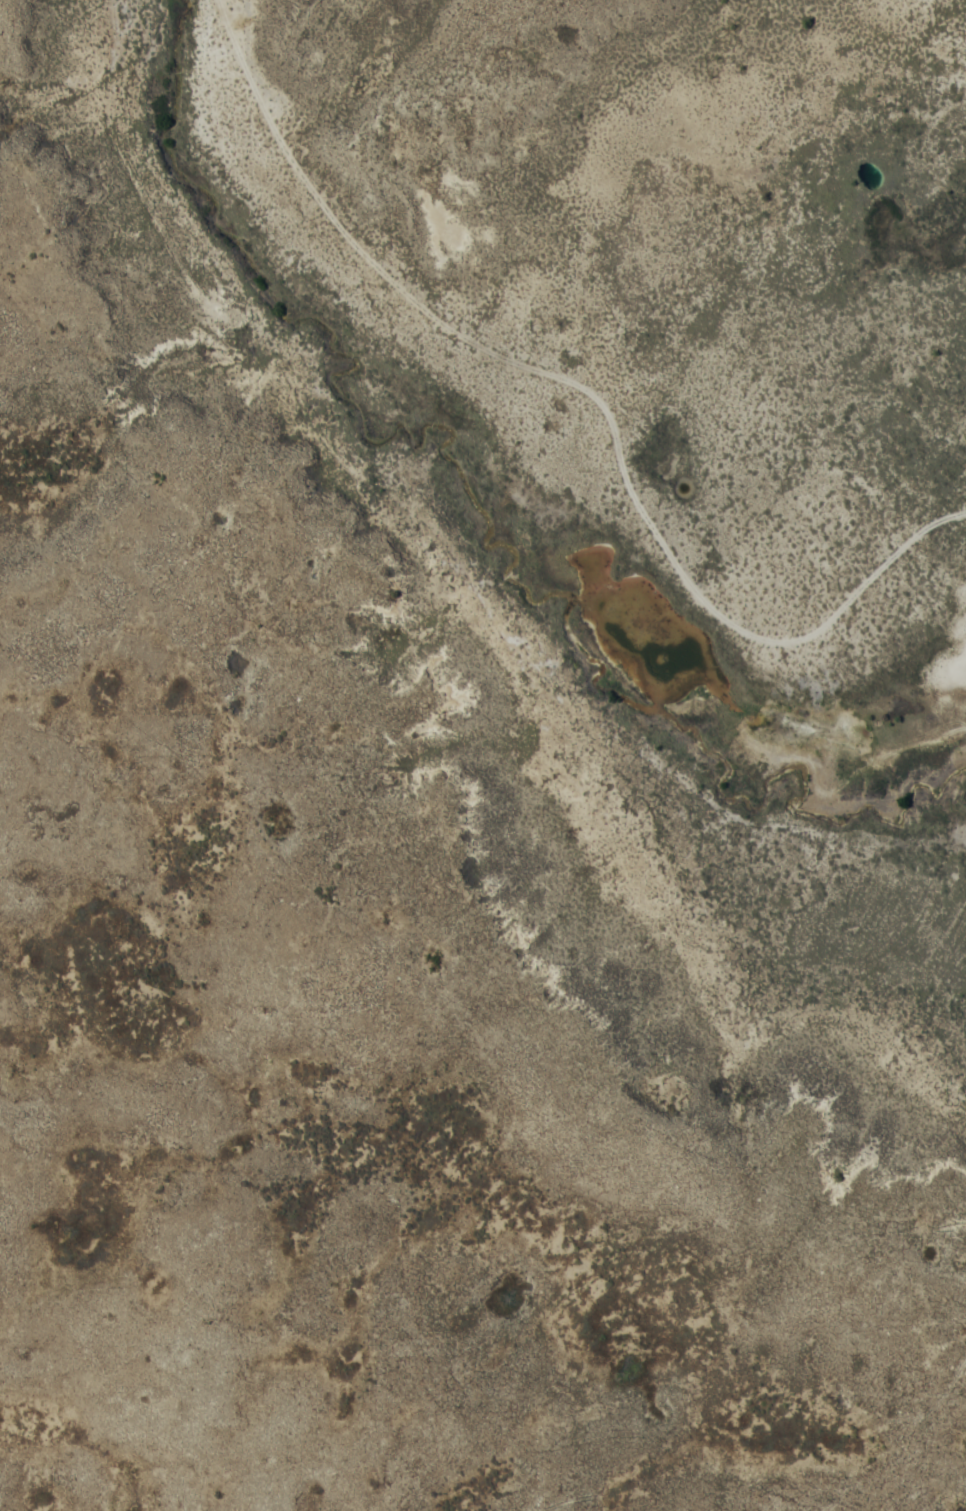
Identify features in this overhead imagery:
road: (553, 382)
river: (485, 553)

